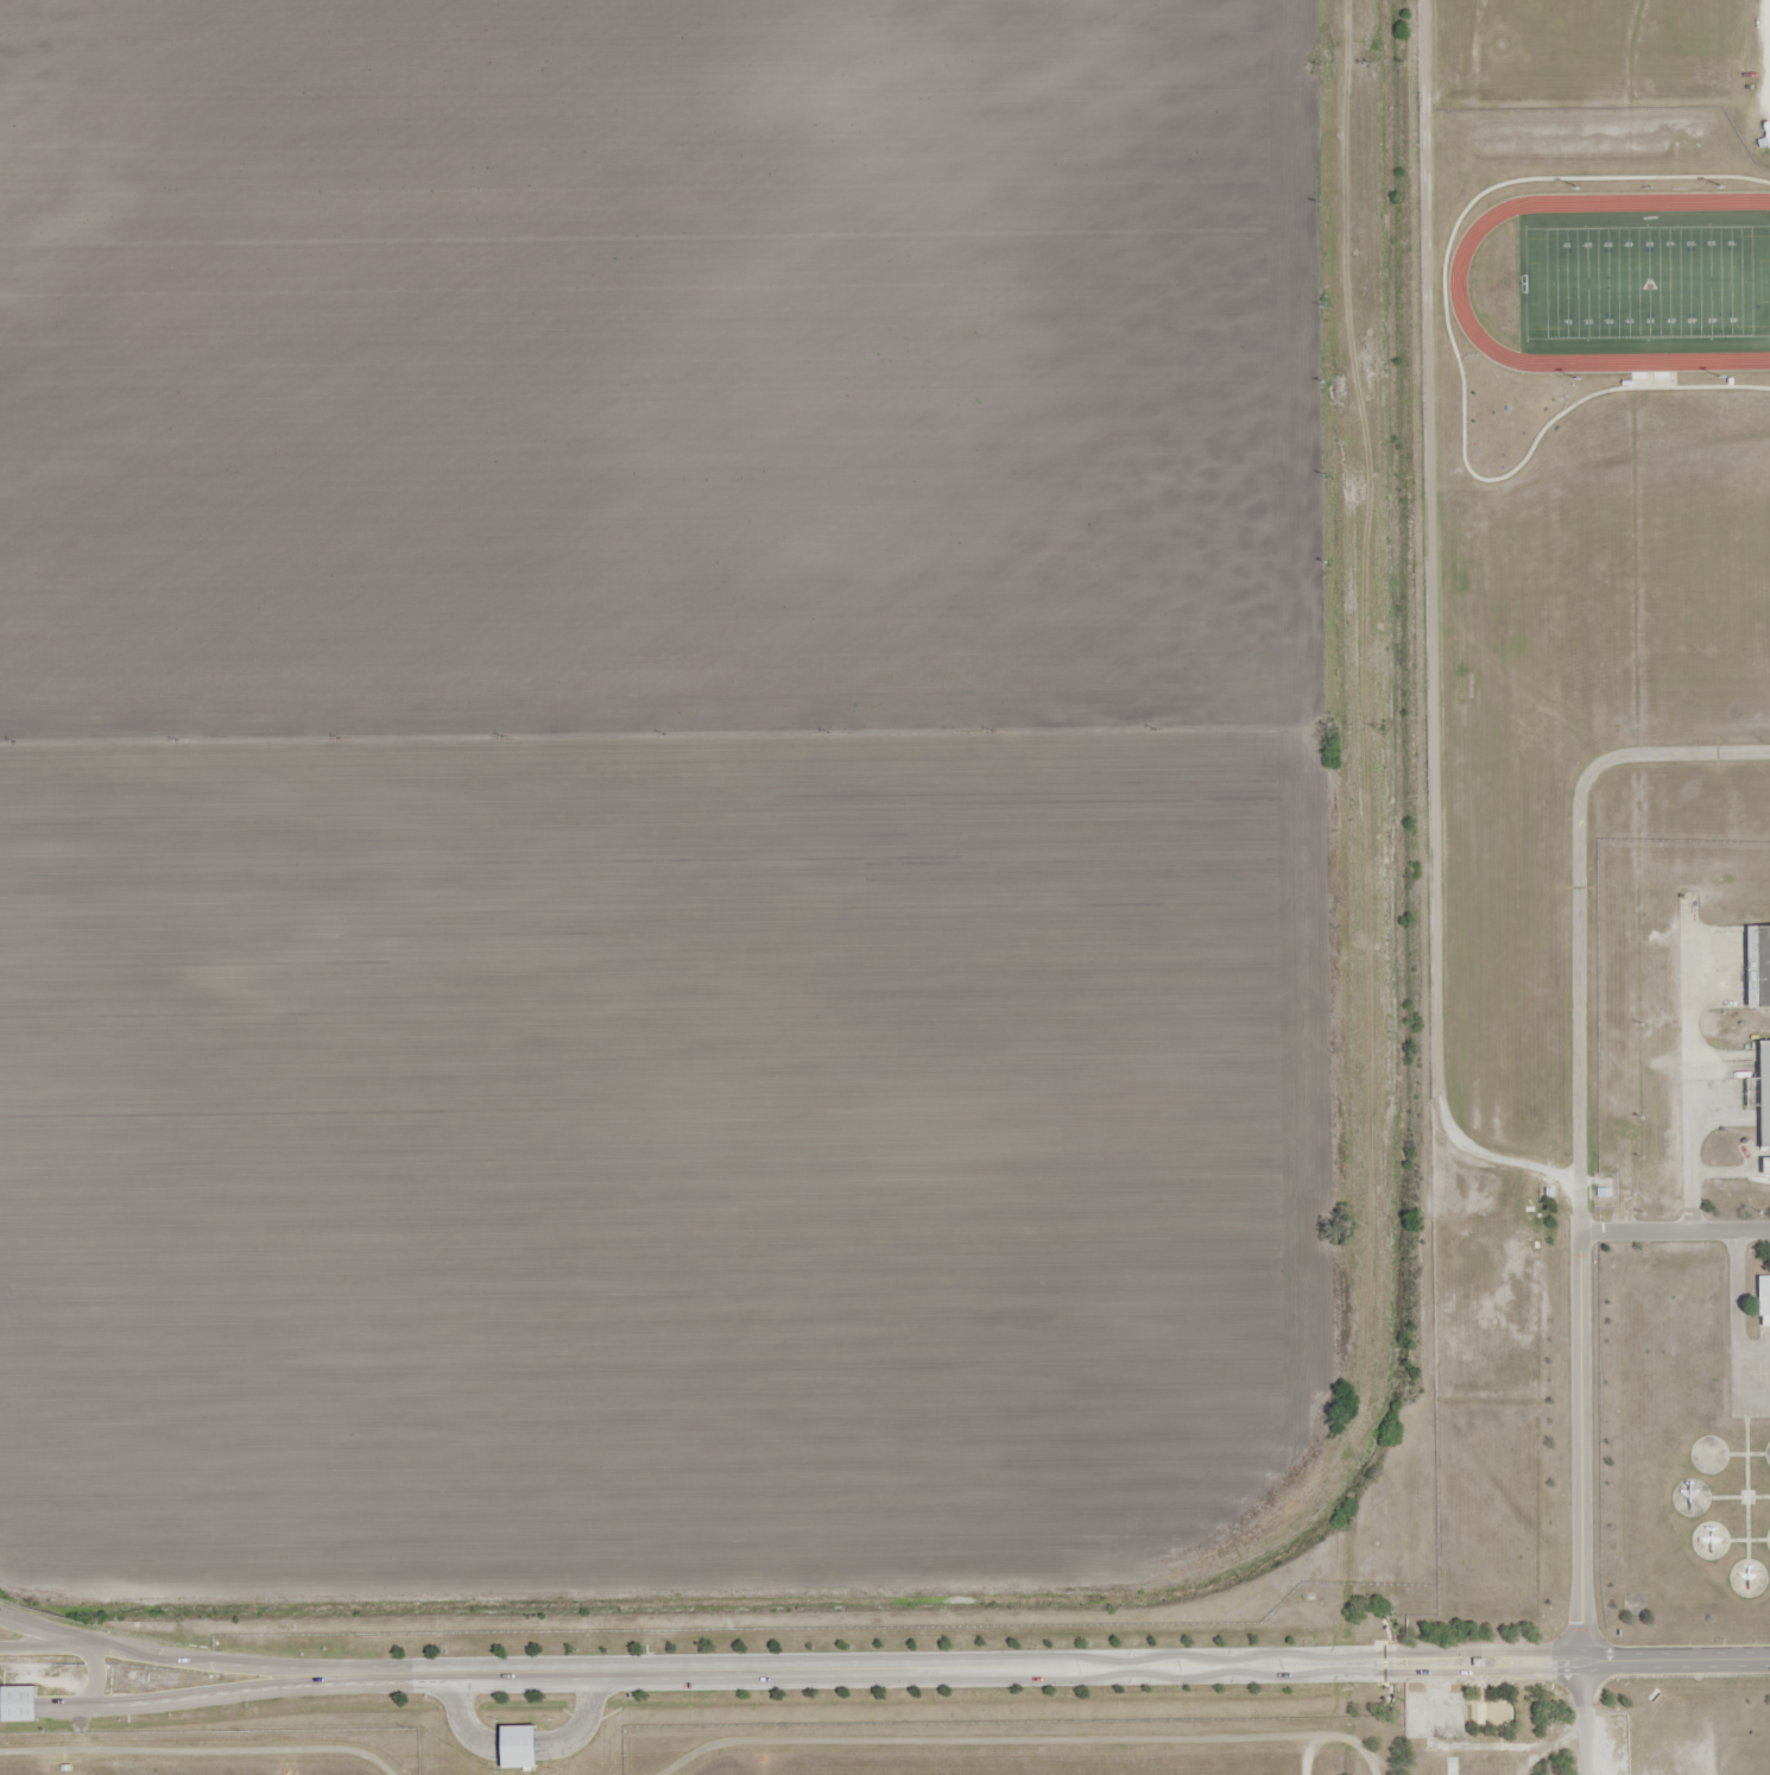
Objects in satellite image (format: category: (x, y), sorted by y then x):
building: (1768, 135)
park: (1646, 280)
building: (1758, 966)
building: (1764, 1097)
building: (1764, 1301)
road: (39, 1628)
road: (206, 1654)
road: (1576, 1662)
road: (898, 1668)
road: (95, 1673)
road: (207, 1693)
building: (27, 1703)
building: (510, 1745)

